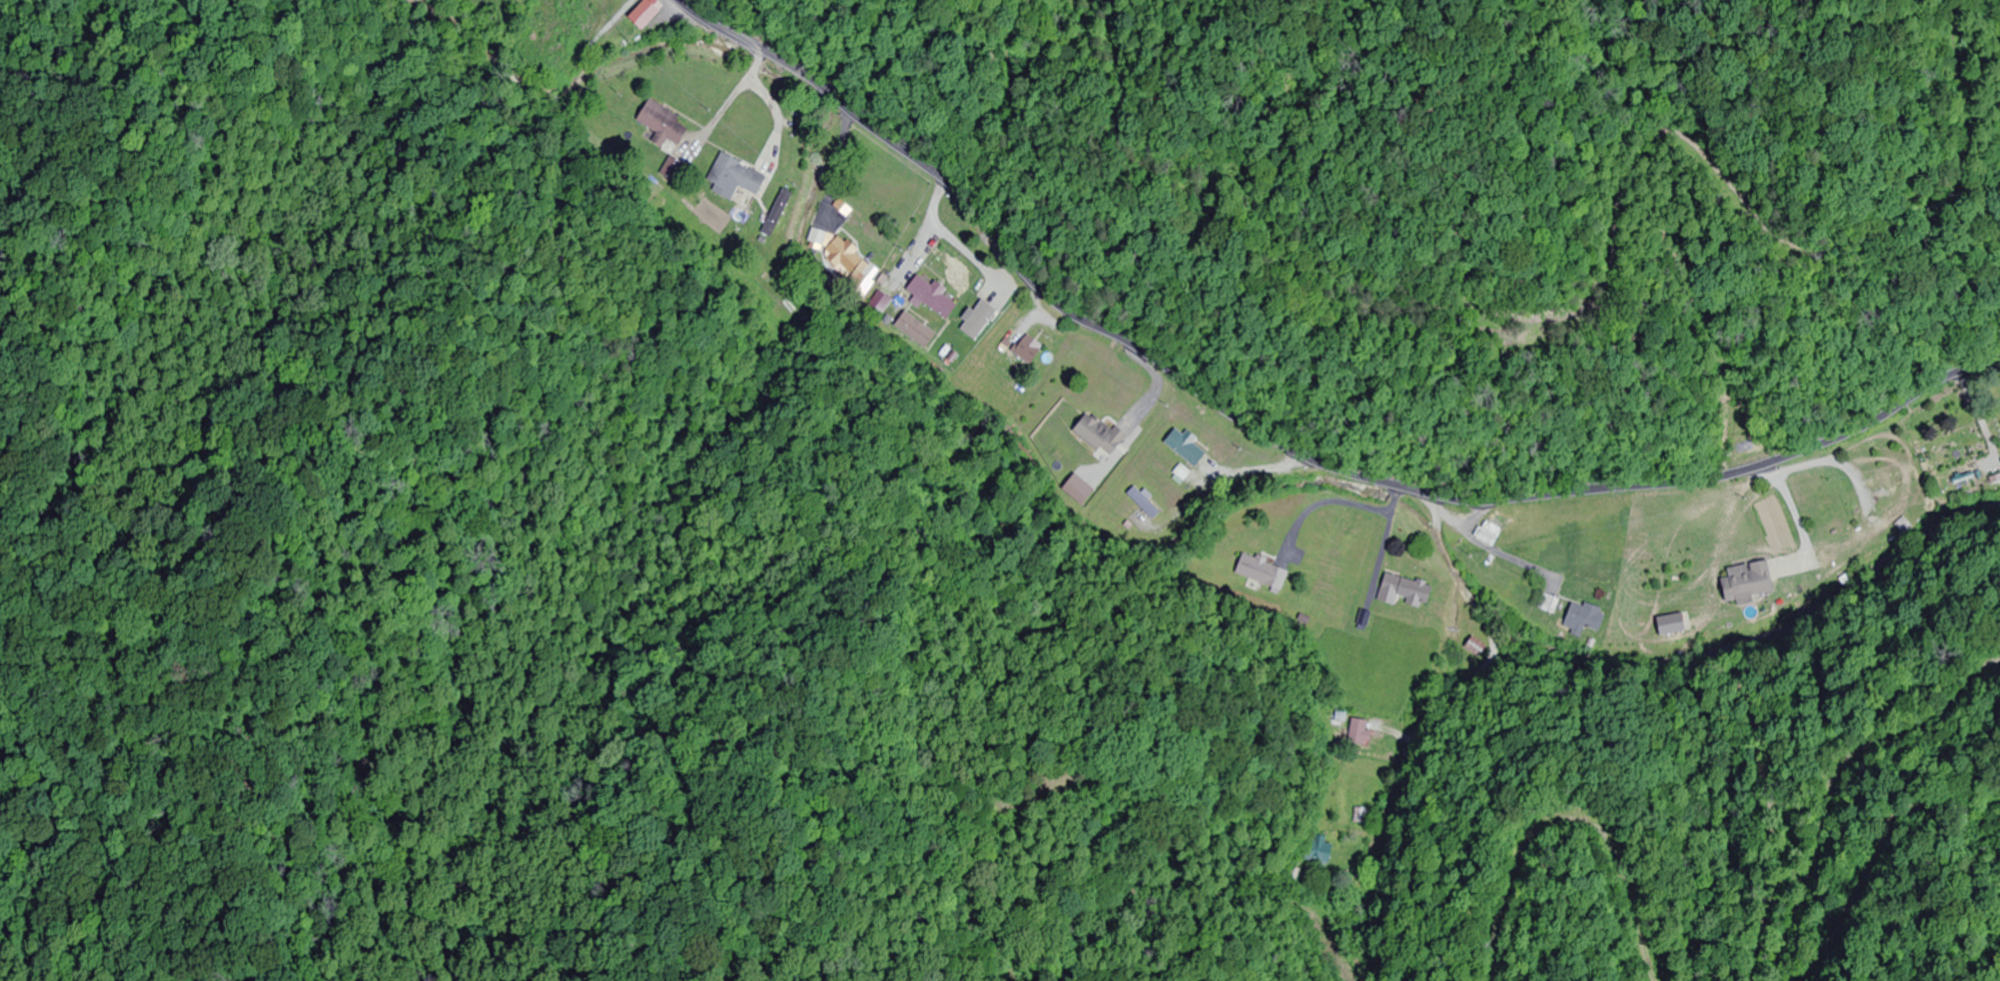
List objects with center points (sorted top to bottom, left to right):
building: (650, 15)
building: (666, 125)
building: (740, 175)
building: (780, 213)
building: (846, 256)
building: (935, 296)
building: (1031, 350)
building: (1102, 434)
road: (1283, 443)
building: (1189, 447)
building: (1886, 483)
building: (1141, 499)
building: (1262, 572)
building: (1744, 582)
building: (1409, 590)
building: (1550, 603)
building: (1585, 618)
building: (1669, 624)
building: (1475, 647)
building: (1366, 731)
building: (1361, 816)
building: (1324, 852)

